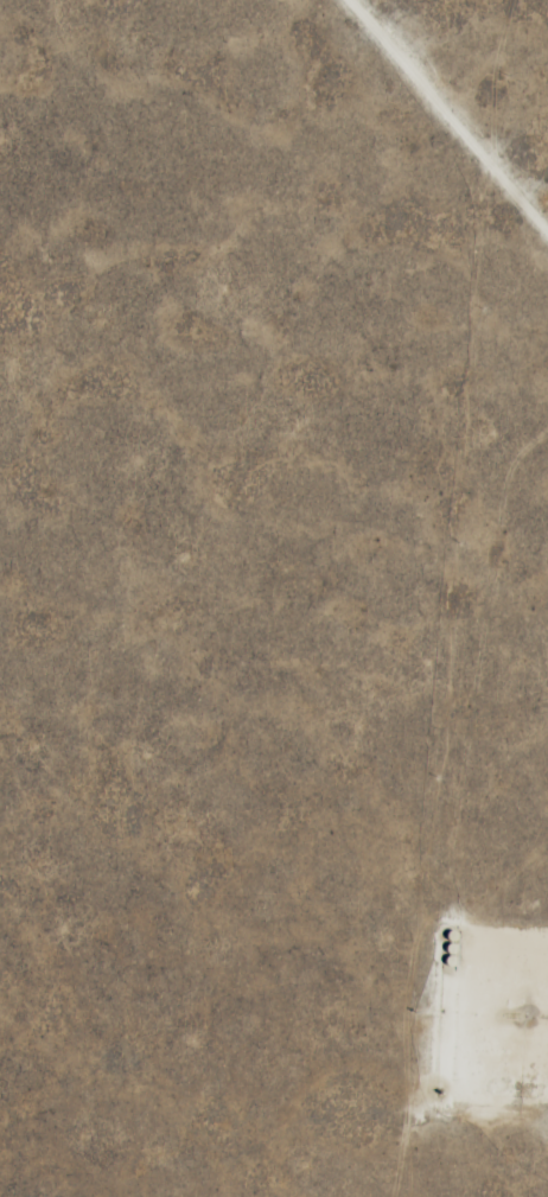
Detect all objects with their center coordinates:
road: (457, 102)

